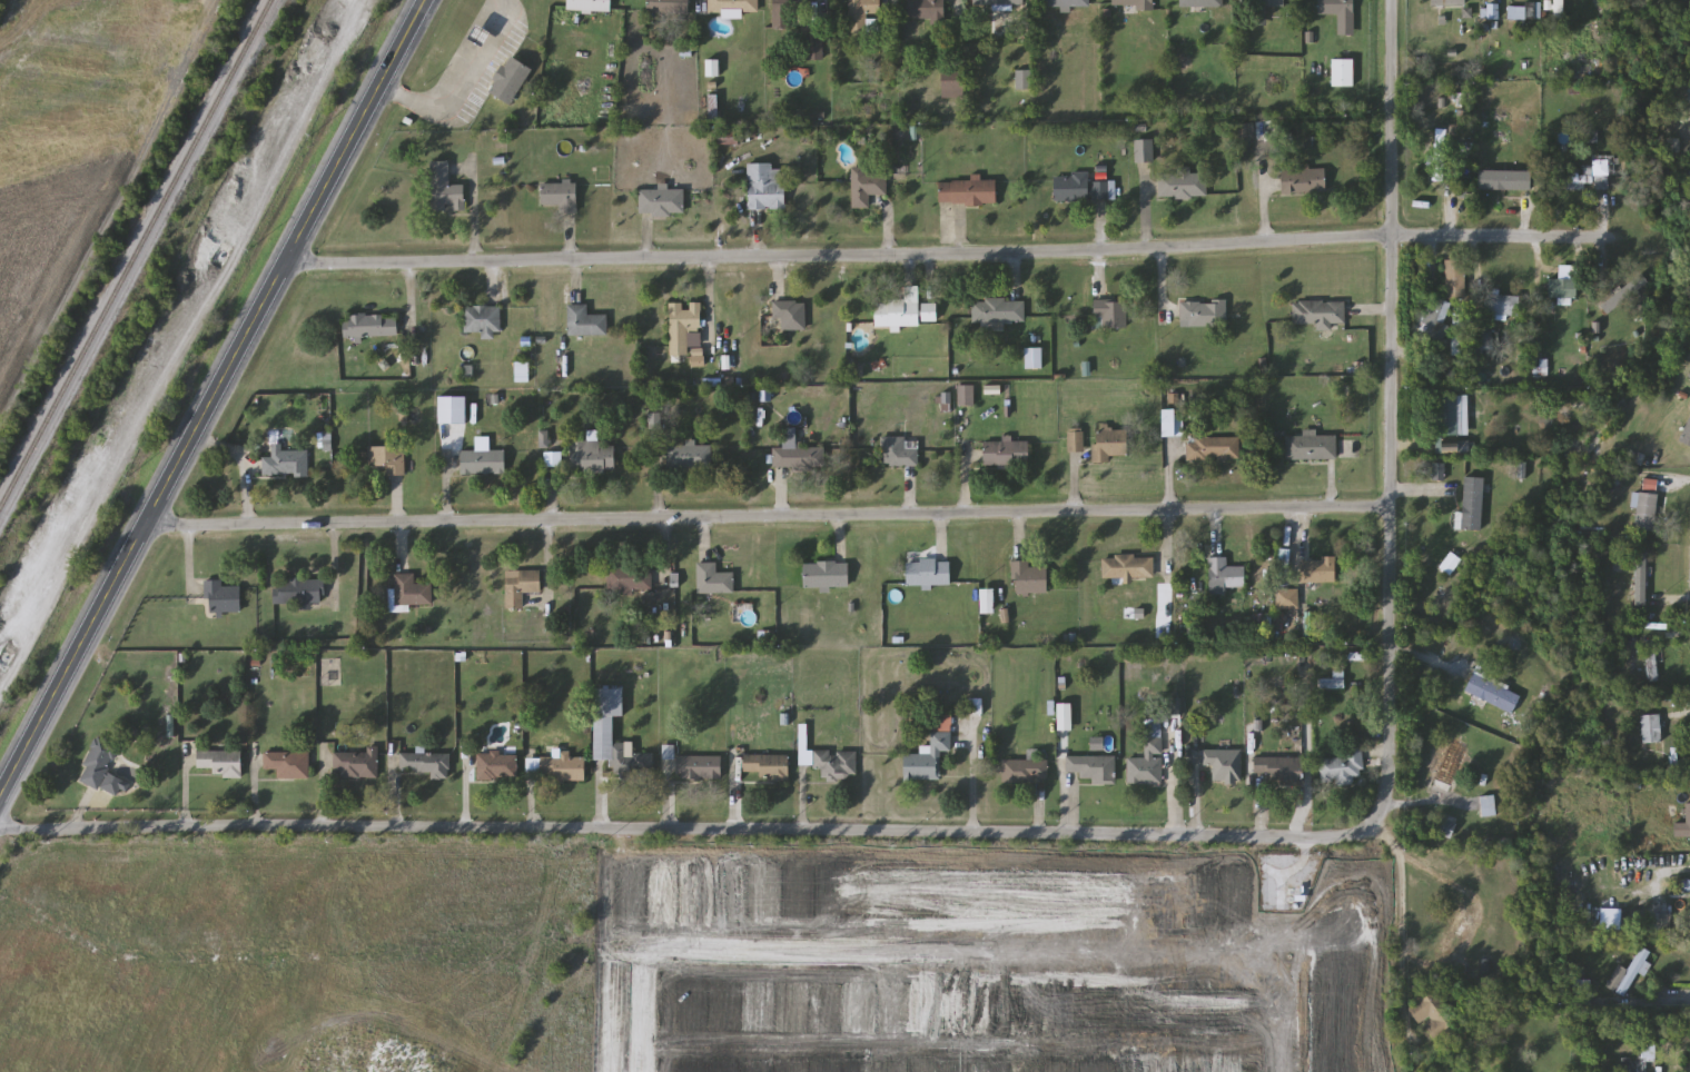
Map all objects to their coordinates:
building: (998, 2)
building: (1268, 2)
building: (1067, 3)
building: (1136, 3)
building: (1202, 3)
building: (1449, 3)
building: (590, 4)
building: (669, 7)
building: (733, 7)
building: (1559, 9)
building: (927, 10)
building: (790, 11)
building: (1492, 12)
building: (1522, 12)
building: (862, 13)
building: (1341, 13)
building: (1343, 72)
building: (511, 80)
road: (464, 85)
building: (1144, 151)
building: (1441, 155)
building: (1604, 170)
building: (1304, 180)
building: (1581, 180)
building: (1180, 182)
building: (867, 186)
road: (1263, 186)
building: (1077, 187)
building: (767, 188)
building: (446, 189)
building: (968, 191)
building: (561, 196)
building: (662, 202)
road: (471, 205)
road: (1145, 207)
road: (945, 251)
railway: (136, 255)
building: (1456, 279)
building: (1562, 288)
road: (708, 297)
building: (1615, 300)
road: (409, 304)
building: (1502, 306)
building: (998, 310)
building: (907, 314)
building: (1203, 314)
building: (1321, 314)
building: (790, 315)
building: (1111, 315)
building: (1432, 318)
building: (483, 319)
building: (586, 321)
building: (684, 321)
railway: (172, 325)
building: (372, 326)
building: (966, 395)
road: (211, 396)
road: (1387, 414)
building: (1446, 416)
building: (1174, 424)
building: (1686, 434)
building: (1076, 441)
building: (1110, 444)
building: (1312, 448)
building: (1213, 449)
building: (897, 453)
building: (1007, 454)
building: (592, 456)
building: (799, 456)
building: (388, 458)
building: (689, 458)
building: (287, 463)
building: (484, 463)
road: (1657, 480)
road: (246, 485)
road: (654, 485)
road: (550, 494)
building: (1473, 504)
building: (1647, 507)
road: (767, 516)
road: (187, 557)
road: (333, 564)
road: (546, 566)
building: (1128, 567)
building: (1318, 570)
building: (929, 573)
building: (827, 575)
building: (1225, 576)
building: (631, 577)
building: (1029, 577)
building: (713, 579)
building: (1641, 579)
building: (521, 587)
building: (298, 592)
building: (412, 592)
building: (223, 597)
building: (1288, 598)
building: (989, 602)
building: (1652, 661)
building: (1493, 689)
building: (604, 729)
building: (1650, 740)
building: (930, 752)
building: (99, 762)
building: (221, 762)
building: (427, 763)
building: (831, 763)
building: (1224, 763)
building: (288, 764)
building: (1147, 764)
building: (356, 765)
building: (1452, 765)
building: (497, 766)
building: (768, 766)
building: (1343, 766)
building: (563, 767)
building: (700, 767)
building: (1093, 767)
building: (1281, 770)
building: (1025, 771)
road: (1174, 775)
road: (971, 778)
road: (731, 782)
road: (182, 784)
road: (665, 784)
road: (254, 786)
road: (323, 786)
road: (392, 786)
road: (464, 788)
road: (530, 788)
road: (599, 797)
road: (801, 800)
building: (1490, 805)
building: (1683, 824)
road: (684, 827)
road: (1430, 871)
building: (1654, 923)
road: (1400, 926)
building: (1453, 932)
road: (673, 945)
building: (1630, 973)
road: (1670, 996)
road: (40, 1009)
road: (623, 1009)
road: (1272, 1012)
building: (1435, 1015)
building: (1640, 1058)

